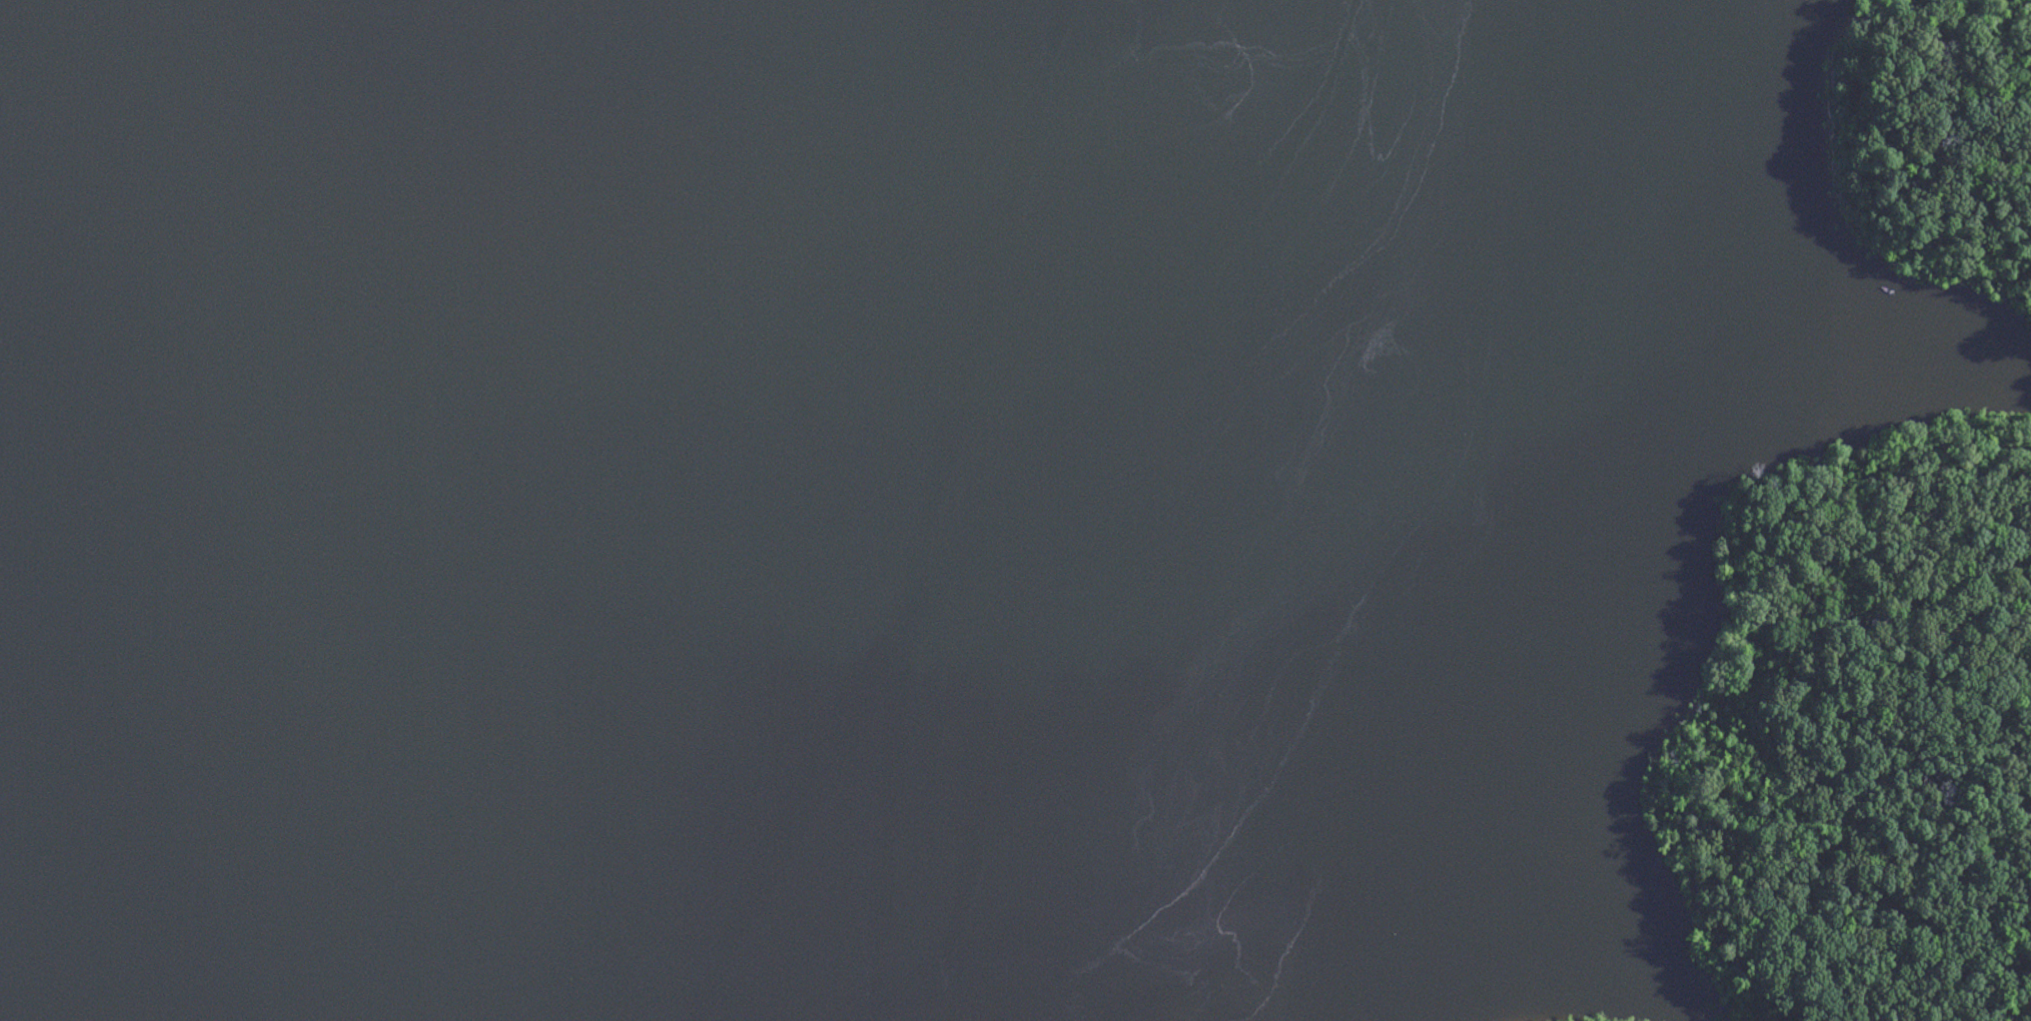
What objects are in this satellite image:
river: (501, 504)

